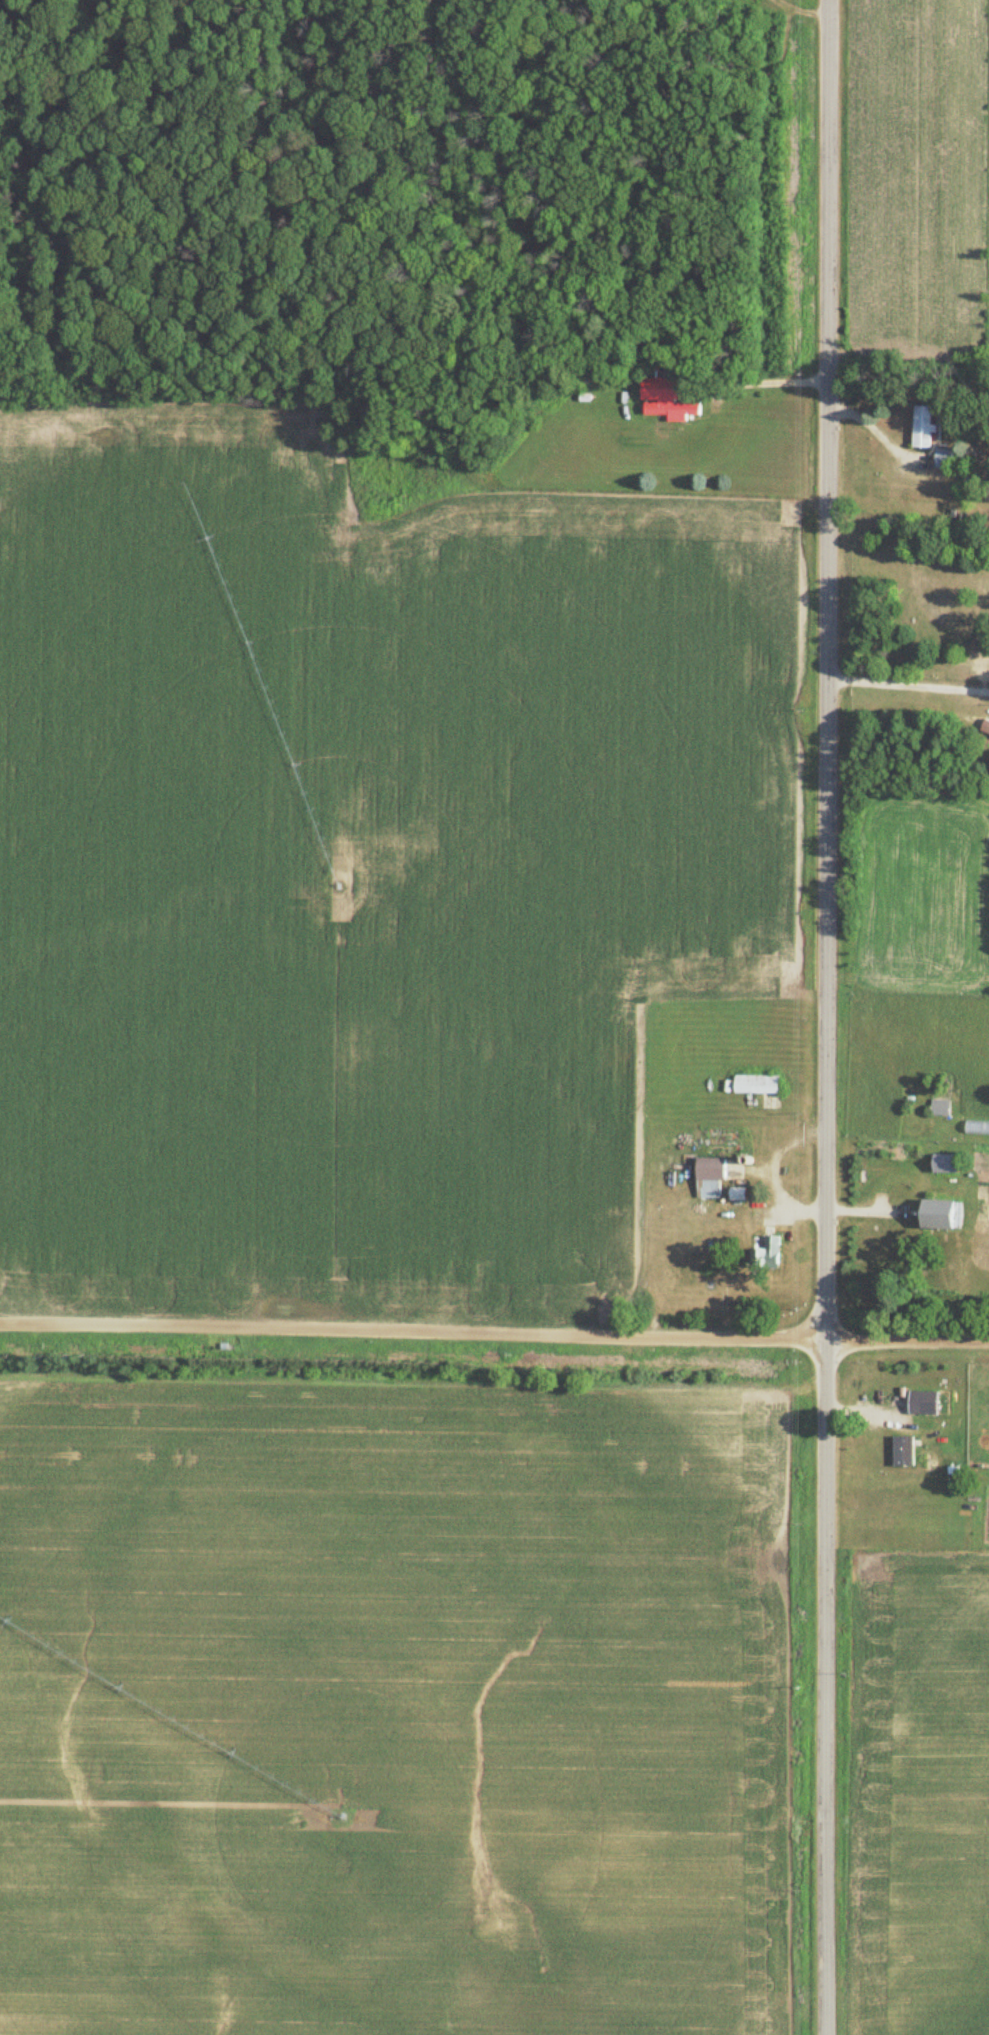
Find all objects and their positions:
road: (743, 383)
building: (658, 392)
building: (670, 410)
building: (920, 426)
building: (941, 458)
road: (908, 686)
road: (827, 1017)
building: (755, 1084)
building: (938, 1107)
building: (943, 1164)
building: (709, 1169)
building: (735, 1194)
building: (937, 1215)
building: (765, 1253)
road: (494, 1338)
building: (921, 1402)
building: (901, 1450)

